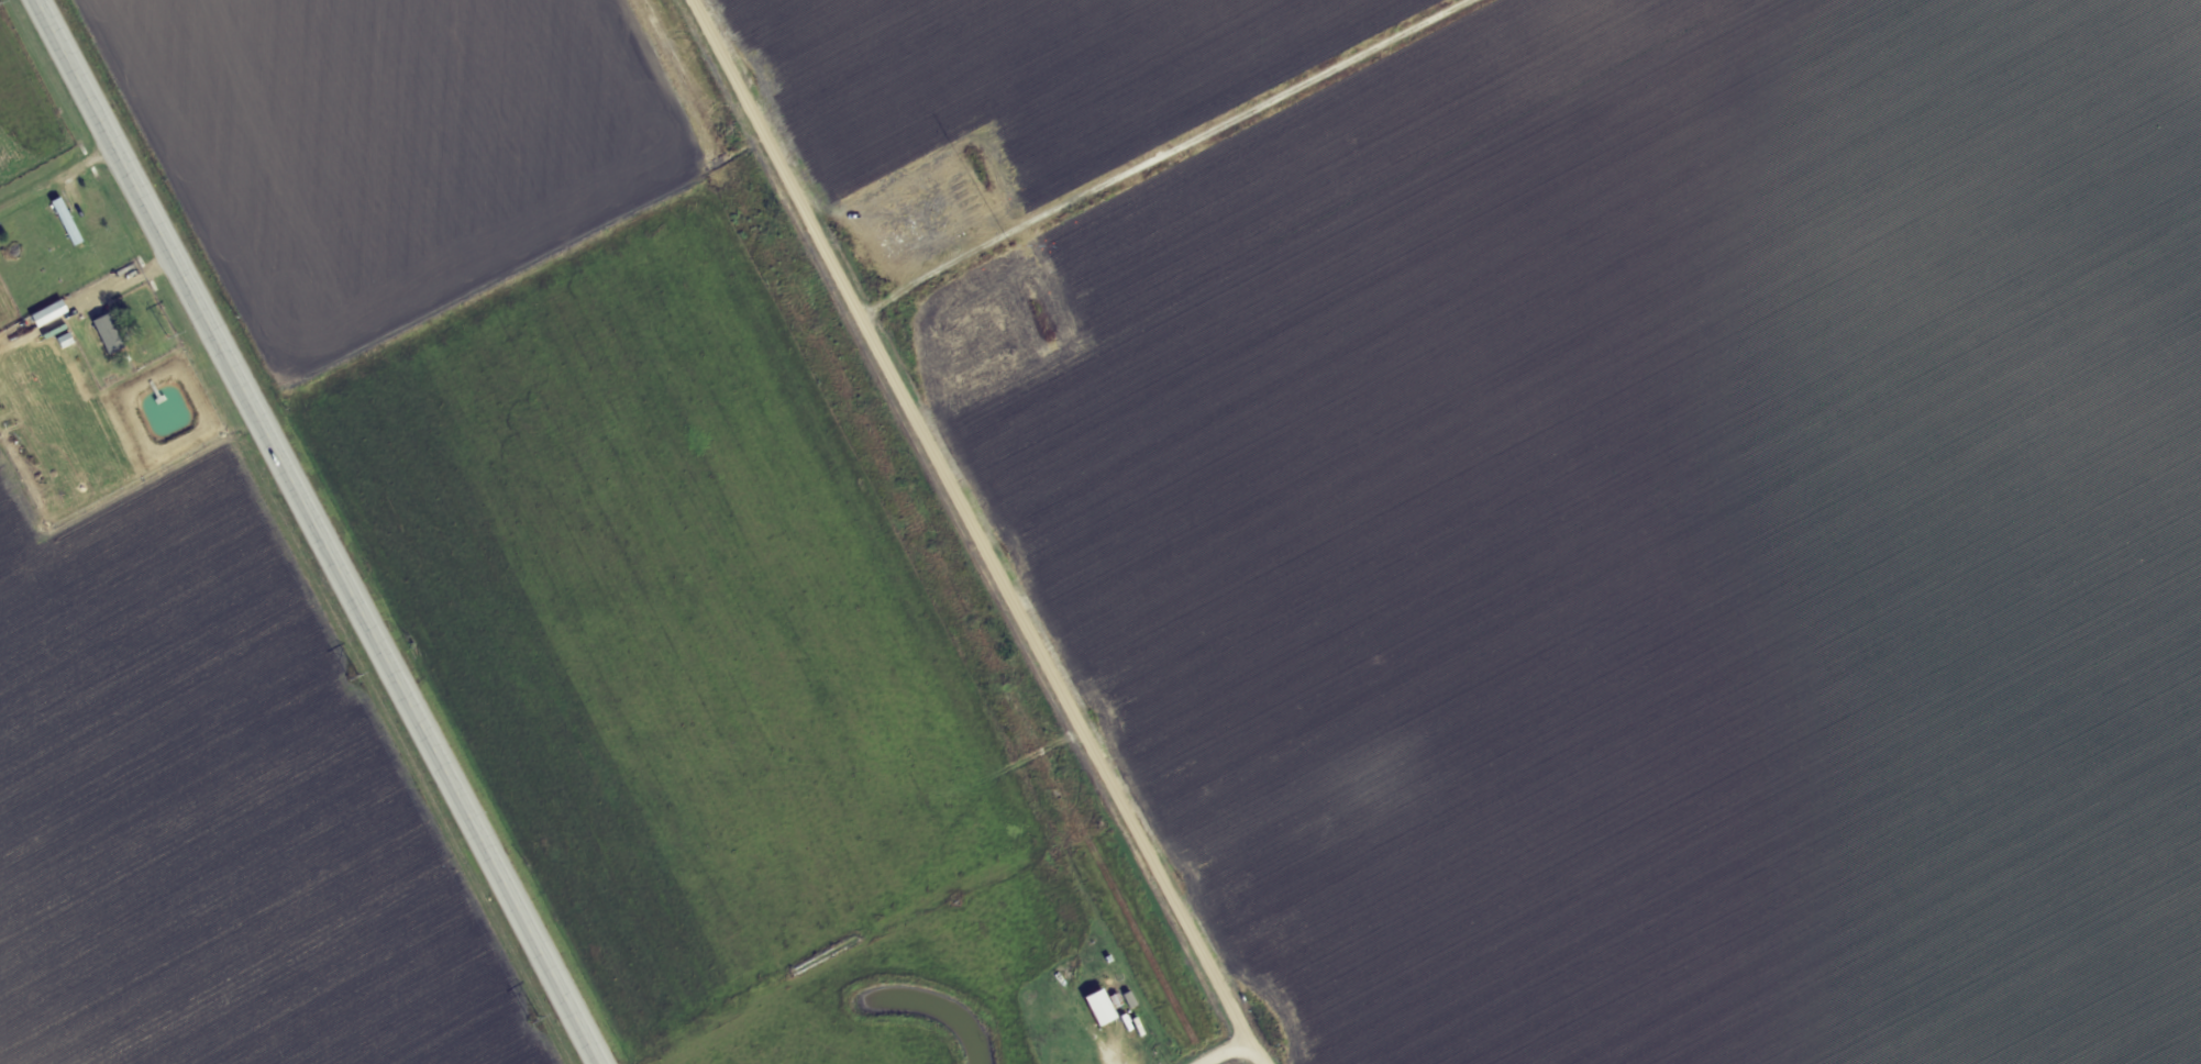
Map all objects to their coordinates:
road: (102, 291)
building: (51, 313)
power tower: (170, 334)
road: (984, 531)
road: (310, 532)
railway: (902, 532)
power tower: (352, 676)
building: (1102, 1006)
power tower: (533, 1020)
road: (1228, 1052)

